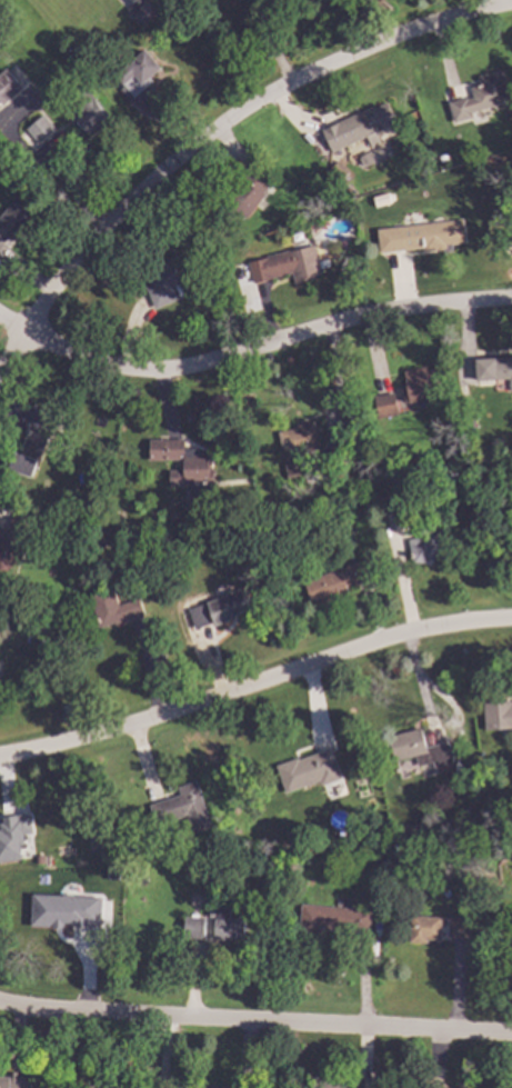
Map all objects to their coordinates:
building: (272, 0)
building: (139, 10)
building: (134, 71)
building: (7, 83)
building: (479, 96)
building: (86, 109)
road: (234, 117)
building: (357, 126)
building: (39, 128)
building: (22, 133)
building: (442, 157)
building: (337, 169)
building: (510, 181)
building: (245, 193)
building: (368, 196)
building: (388, 197)
building: (11, 219)
building: (420, 236)
building: (217, 246)
building: (283, 264)
building: (165, 278)
road: (11, 321)
road: (263, 342)
road: (11, 348)
building: (493, 368)
building: (419, 383)
building: (384, 405)
building: (48, 417)
building: (466, 423)
building: (297, 438)
building: (338, 449)
building: (28, 451)
building: (185, 467)
building: (360, 467)
building: (449, 476)
building: (51, 487)
building: (395, 515)
building: (102, 516)
building: (11, 542)
building: (182, 542)
building: (425, 547)
building: (337, 580)
building: (112, 607)
building: (219, 607)
building: (37, 641)
road: (255, 683)
building: (496, 713)
building: (418, 748)
building: (307, 769)
building: (181, 807)
building: (465, 809)
building: (8, 834)
building: (177, 834)
building: (291, 845)
building: (252, 847)
building: (38, 858)
building: (82, 898)
building: (63, 911)
building: (332, 916)
building: (225, 924)
building: (192, 926)
building: (456, 926)
building: (422, 927)
road: (255, 1020)
building: (16, 1082)
building: (331, 1084)
building: (211, 1086)
building: (110, 1087)

